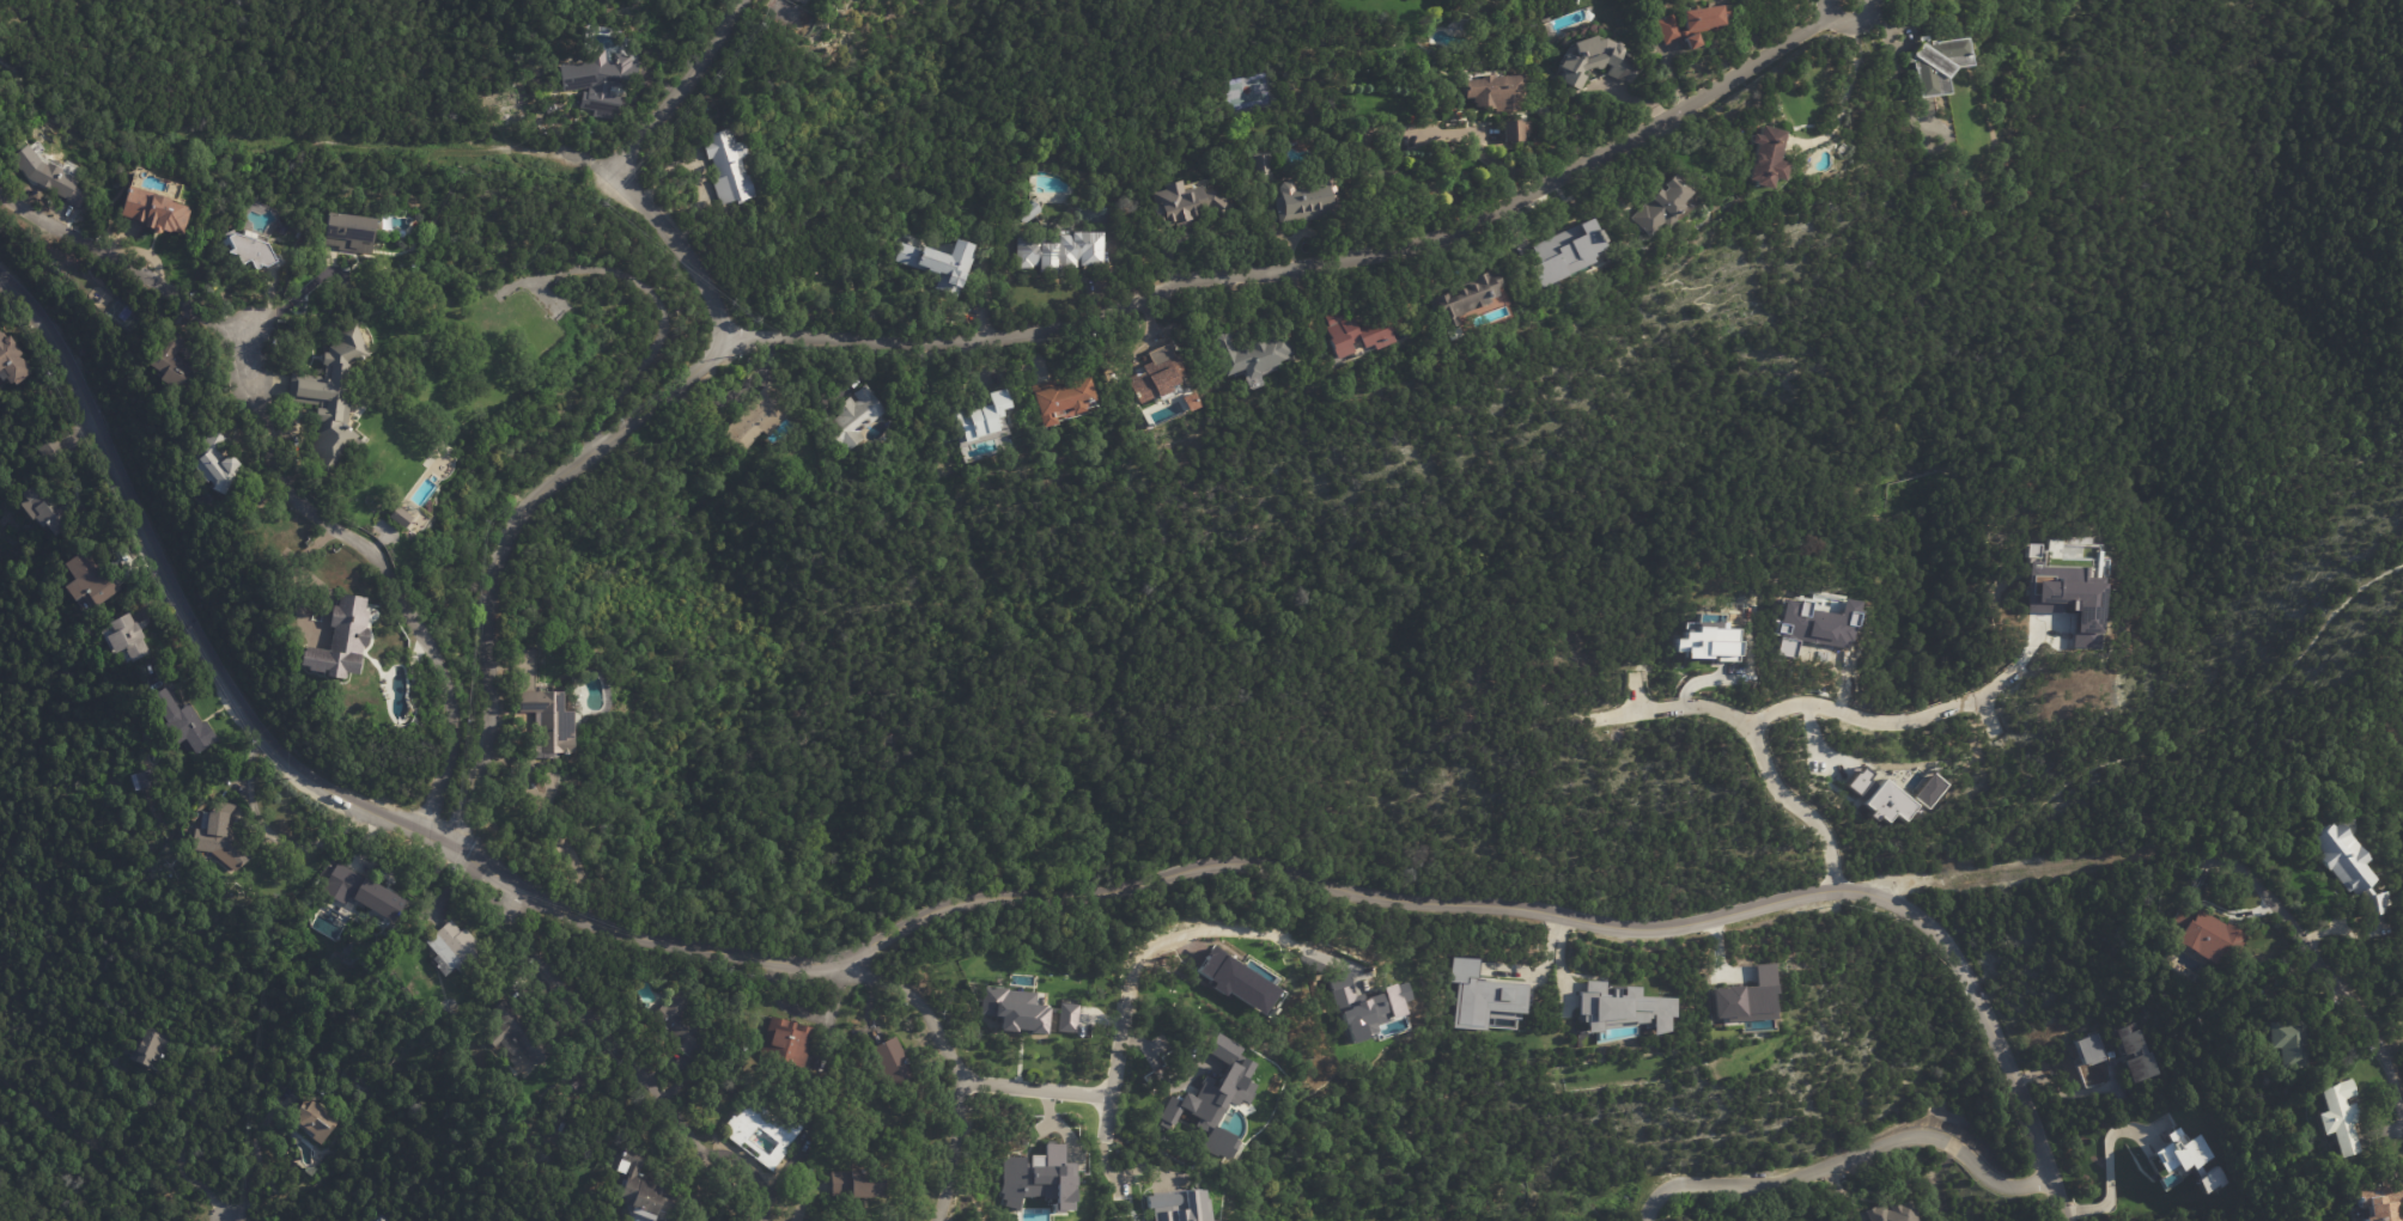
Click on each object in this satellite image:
building: (803, 2)
building: (1692, 16)
building: (1657, 29)
building: (1683, 41)
building: (1588, 60)
building: (1936, 62)
building: (603, 83)
road: (677, 87)
building: (1248, 91)
building: (1489, 91)
road: (1839, 97)
road: (1379, 129)
building: (1510, 130)
road: (281, 139)
building: (1756, 157)
building: (722, 165)
building: (1258, 166)
building: (48, 175)
road: (1531, 189)
building: (1300, 201)
building: (1179, 202)
building: (1651, 203)
building: (157, 210)
building: (1032, 210)
building: (349, 233)
road: (669, 234)
building: (249, 246)
building: (1556, 251)
building: (1065, 252)
building: (944, 264)
building: (1456, 300)
road: (284, 303)
building: (299, 332)
building: (1351, 332)
building: (1447, 334)
road: (949, 340)
building: (1242, 353)
building: (12, 361)
building: (176, 365)
building: (1148, 376)
building: (330, 399)
building: (1067, 403)
building: (759, 419)
building: (857, 419)
building: (987, 419)
building: (49, 447)
building: (217, 464)
road: (274, 481)
building: (44, 511)
building: (402, 518)
road: (498, 547)
building: (91, 584)
building: (2074, 593)
building: (1809, 619)
building: (128, 635)
building: (343, 642)
building: (1715, 642)
building: (1785, 645)
road: (1705, 679)
road: (1894, 716)
building: (185, 720)
building: (552, 725)
road: (1759, 741)
road: (2170, 747)
building: (142, 779)
building: (1897, 794)
building: (220, 836)
road: (2089, 861)
building: (2348, 868)
road: (1899, 883)
road: (2201, 886)
building: (364, 891)
road: (965, 903)
road: (2229, 912)
road: (1203, 926)
building: (2204, 933)
building: (457, 950)
building: (1028, 967)
building: (1236, 981)
road: (2335, 981)
building: (2262, 984)
building: (1486, 1001)
building: (1752, 1002)
building: (1626, 1013)
building: (1066, 1018)
building: (687, 1026)
building: (523, 1028)
road: (1118, 1033)
building: (790, 1042)
building: (2286, 1043)
building: (151, 1046)
building: (2130, 1052)
road: (955, 1061)
building: (1267, 1063)
road: (643, 1067)
building: (894, 1067)
building: (1200, 1075)
building: (321, 1088)
road: (1035, 1091)
road: (2057, 1091)
building: (1213, 1098)
building: (2337, 1117)
building: (318, 1119)
building: (784, 1136)
building: (1057, 1141)
road: (1844, 1159)
building: (2189, 1159)
road: (250, 1160)
road: (1102, 1172)
road: (2111, 1177)
building: (1039, 1178)
building: (858, 1182)
building: (646, 1188)
building: (2378, 1202)
building: (1178, 1205)
building: (1888, 1213)
building: (382, 1217)

